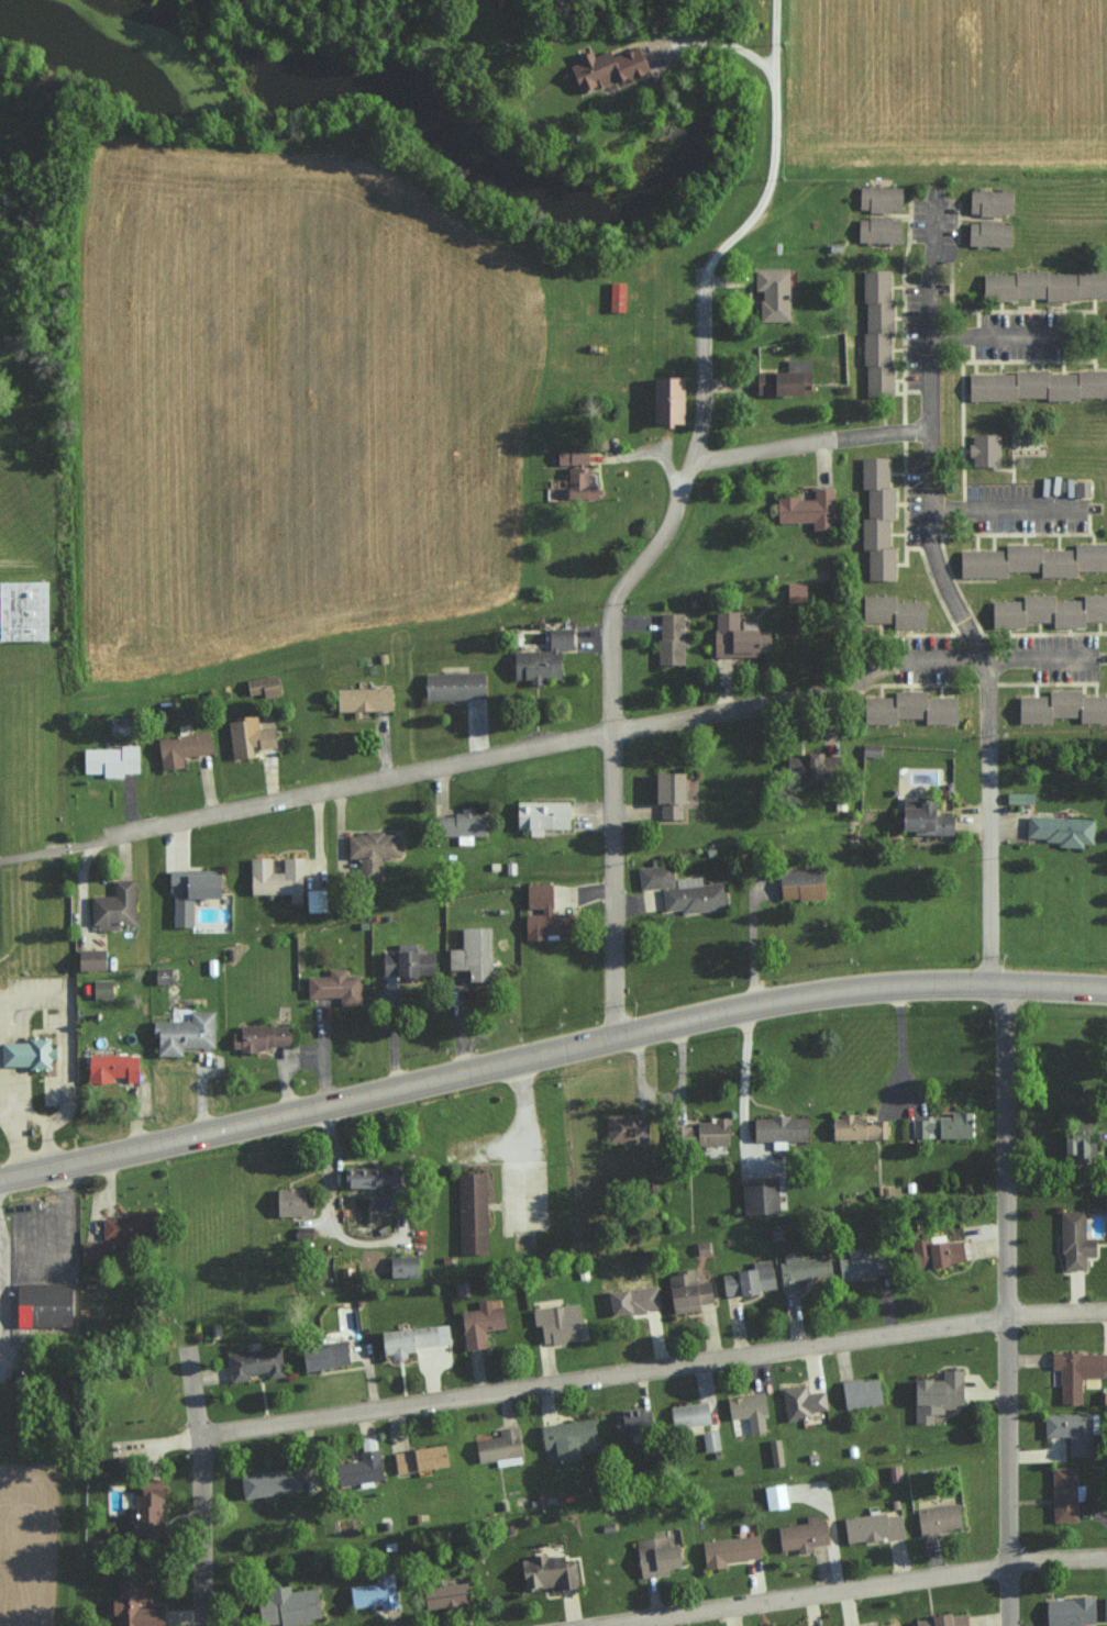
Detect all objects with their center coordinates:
road: (711, 42)
building: (605, 68)
building: (878, 199)
building: (988, 202)
parking lot: (934, 219)
building: (877, 230)
building: (987, 234)
road: (927, 270)
building: (1043, 285)
building: (772, 293)
building: (615, 296)
building: (876, 331)
road: (988, 337)
parking lot: (1023, 337)
parking lot: (915, 338)
building: (784, 378)
building: (1037, 385)
building: (664, 399)
road: (805, 445)
building: (983, 448)
building: (571, 457)
building: (577, 483)
building: (1081, 488)
parking lot: (916, 502)
road: (673, 509)
building: (807, 509)
parking lot: (1029, 509)
road: (999, 515)
building: (876, 517)
building: (1032, 559)
building: (794, 591)
building: (1048, 610)
building: (892, 611)
building: (22, 612)
building: (737, 636)
building: (669, 638)
road: (978, 650)
parking lot: (1062, 657)
building: (541, 658)
parking lot: (923, 660)
road: (1038, 660)
building: (452, 684)
building: (261, 686)
building: (362, 700)
building: (1062, 706)
building: (908, 708)
building: (246, 735)
road: (546, 747)
building: (180, 748)
building: (871, 749)
building: (109, 760)
building: (805, 766)
building: (666, 793)
building: (1018, 798)
building: (540, 815)
building: (922, 818)
building: (460, 825)
building: (1061, 829)
road: (54, 846)
building: (370, 850)
building: (275, 877)
building: (655, 877)
building: (799, 884)
building: (188, 892)
building: (694, 895)
building: (112, 906)
building: (540, 913)
building: (472, 953)
building: (87, 959)
building: (406, 962)
building: (160, 975)
building: (334, 985)
building: (100, 988)
road: (773, 992)
road: (1, 1003)
building: (182, 1033)
building: (258, 1037)
road: (899, 1042)
building: (27, 1055)
building: (110, 1067)
road: (742, 1071)
road: (68, 1115)
road: (224, 1121)
road: (520, 1122)
building: (942, 1126)
building: (855, 1128)
building: (623, 1129)
building: (777, 1129)
building: (699, 1134)
road: (16, 1138)
road: (49, 1141)
building: (1076, 1146)
park: (453, 1163)
building: (1104, 1168)
building: (369, 1182)
building: (760, 1193)
building: (290, 1201)
road: (326, 1201)
building: (1106, 1201)
building: (473, 1214)
building: (122, 1225)
building: (301, 1232)
building: (1073, 1240)
parking lot: (37, 1245)
building: (92, 1250)
building: (933, 1251)
building: (401, 1266)
building: (857, 1266)
building: (800, 1269)
building: (748, 1279)
building: (686, 1291)
road: (1004, 1299)
building: (632, 1300)
building: (44, 1306)
road: (157, 1319)
building: (478, 1323)
building: (557, 1323)
building: (410, 1338)
building: (321, 1355)
building: (253, 1363)
road: (653, 1370)
building: (1076, 1371)
building: (860, 1392)
building: (936, 1395)
building: (800, 1402)
building: (748, 1411)
building: (688, 1414)
building: (1070, 1430)
building: (564, 1439)
building: (710, 1440)
building: (498, 1448)
building: (775, 1452)
building: (418, 1459)
building: (358, 1468)
building: (267, 1482)
building: (1062, 1493)
building: (774, 1496)
building: (144, 1505)
building: (937, 1518)
building: (873, 1527)
road: (200, 1532)
building: (801, 1534)
building: (728, 1550)
building: (654, 1556)
building: (546, 1572)
building: (374, 1593)
road: (860, 1595)
building: (444, 1596)
building: (132, 1604)
building: (286, 1606)
building: (1105, 1607)
building: (1067, 1611)
building: (942, 1621)
building: (883, 1624)

